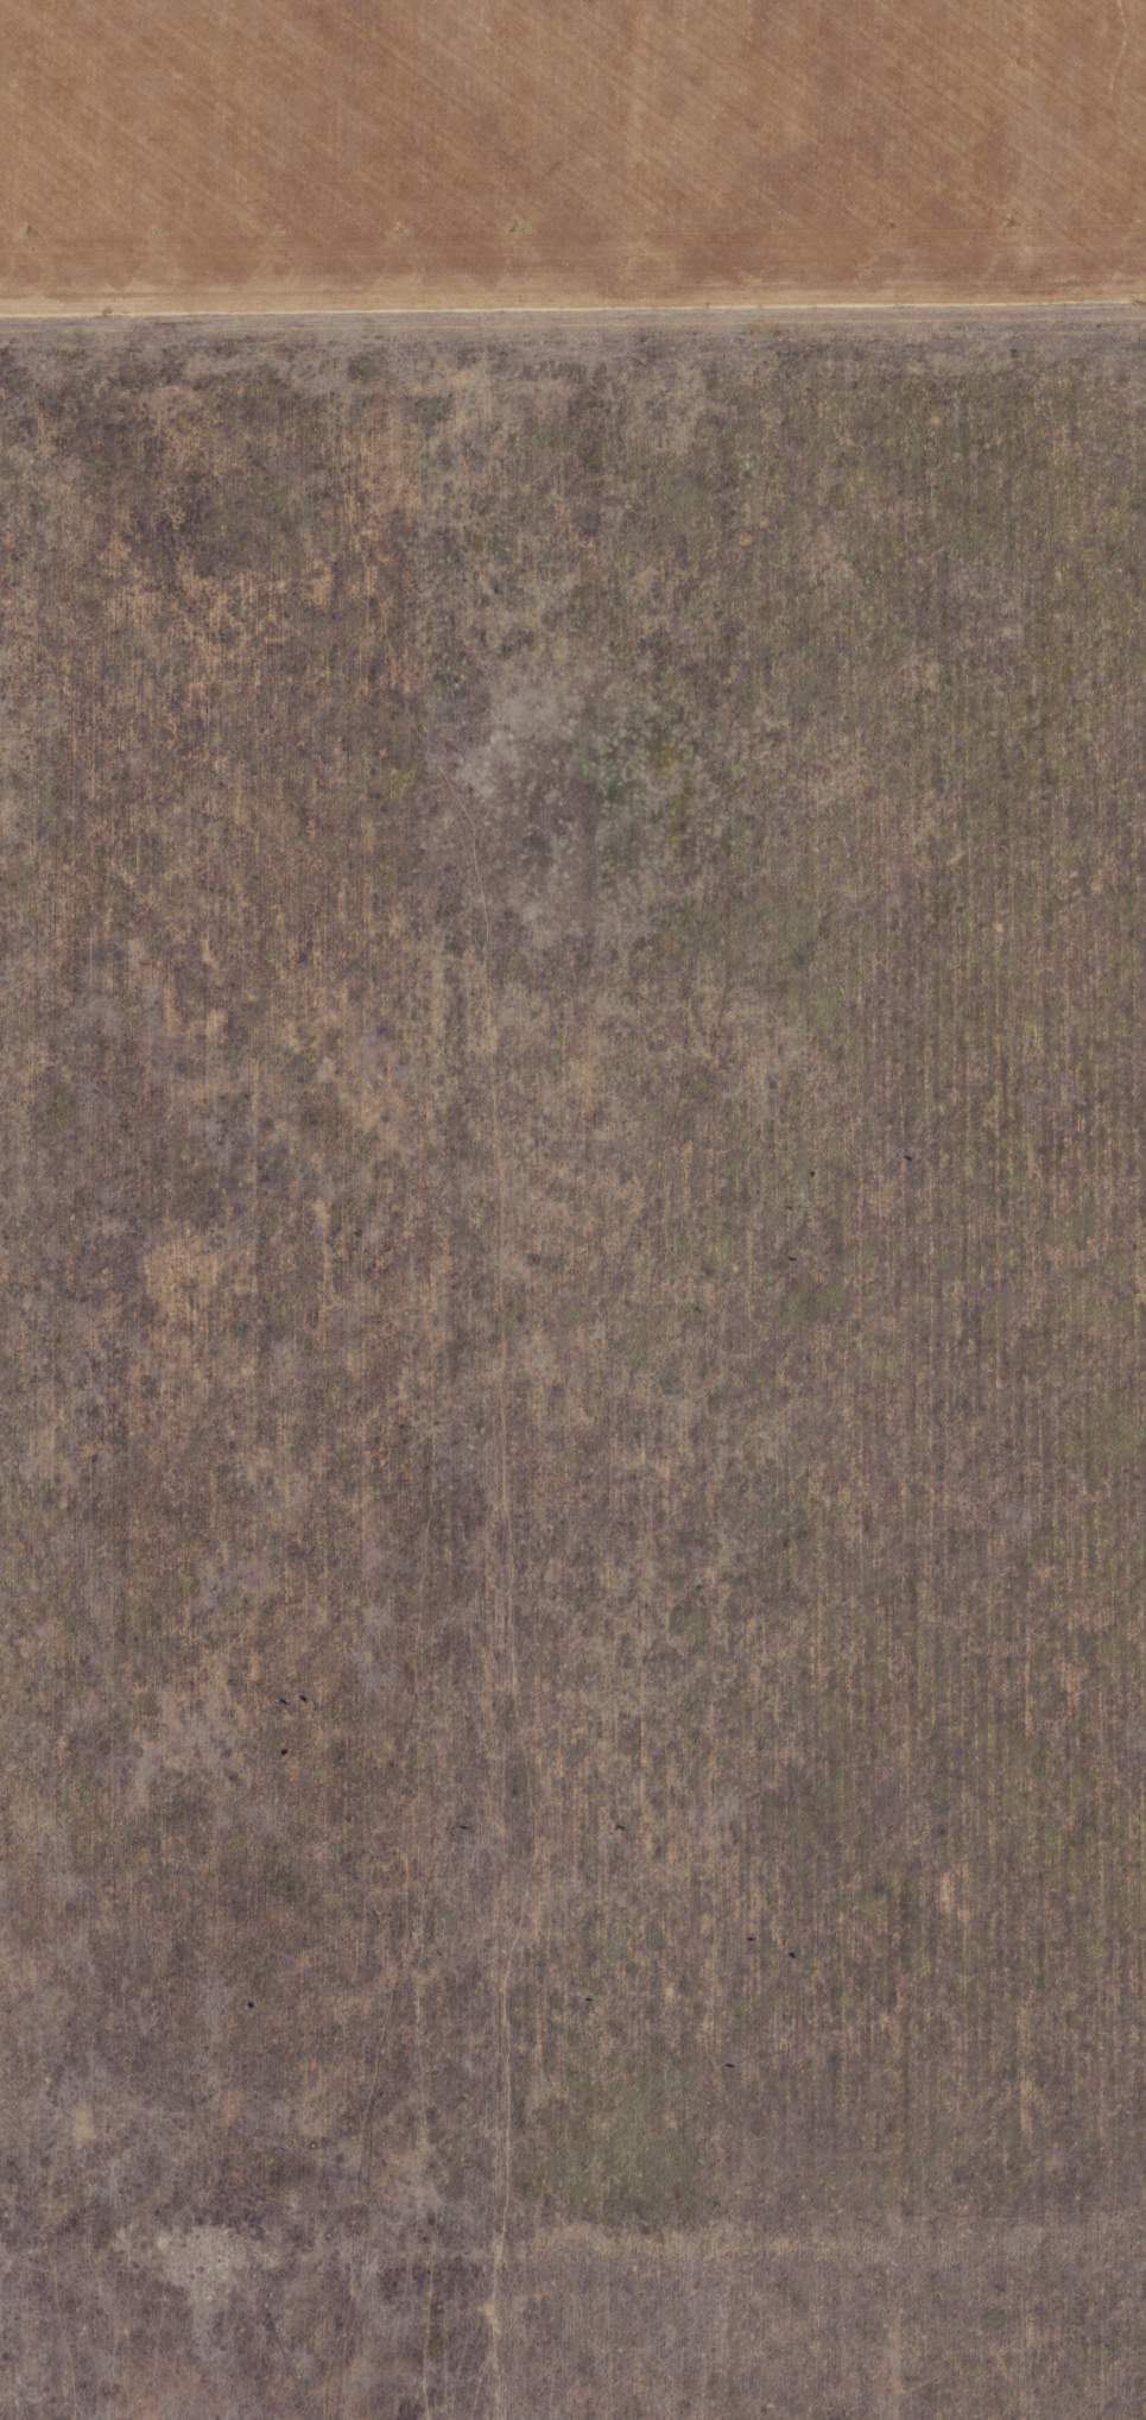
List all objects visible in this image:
road: (572, 284)

